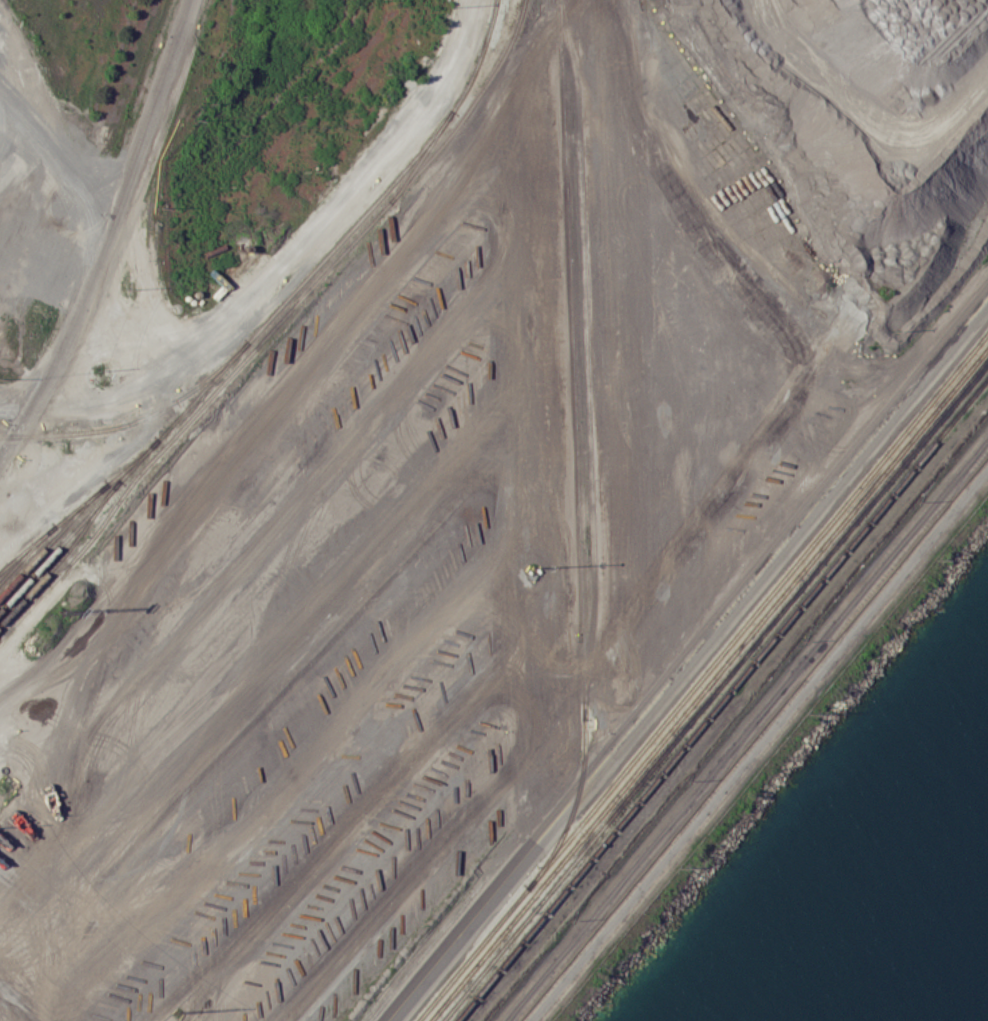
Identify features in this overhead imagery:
railway: (468, 108)
railway: (452, 109)
railway: (420, 157)
road: (57, 160)
road: (108, 236)
road: (663, 269)
railway: (567, 274)
railway: (258, 343)
railway: (585, 358)
railway: (216, 369)
railway: (218, 374)
road: (235, 431)
railway: (158, 437)
railway: (112, 487)
railway: (89, 497)
railway: (83, 507)
railway: (94, 514)
railway: (36, 544)
railway: (84, 545)
railway: (26, 547)
railway: (30, 562)
railway: (55, 563)
railway: (9, 571)
railway: (33, 571)
railway: (21, 600)
railway: (16, 618)
railway: (580, 648)
road: (691, 664)
railway: (702, 675)
railway: (708, 683)
railway: (713, 690)
railway: (720, 698)
road: (756, 740)
railway: (566, 823)

